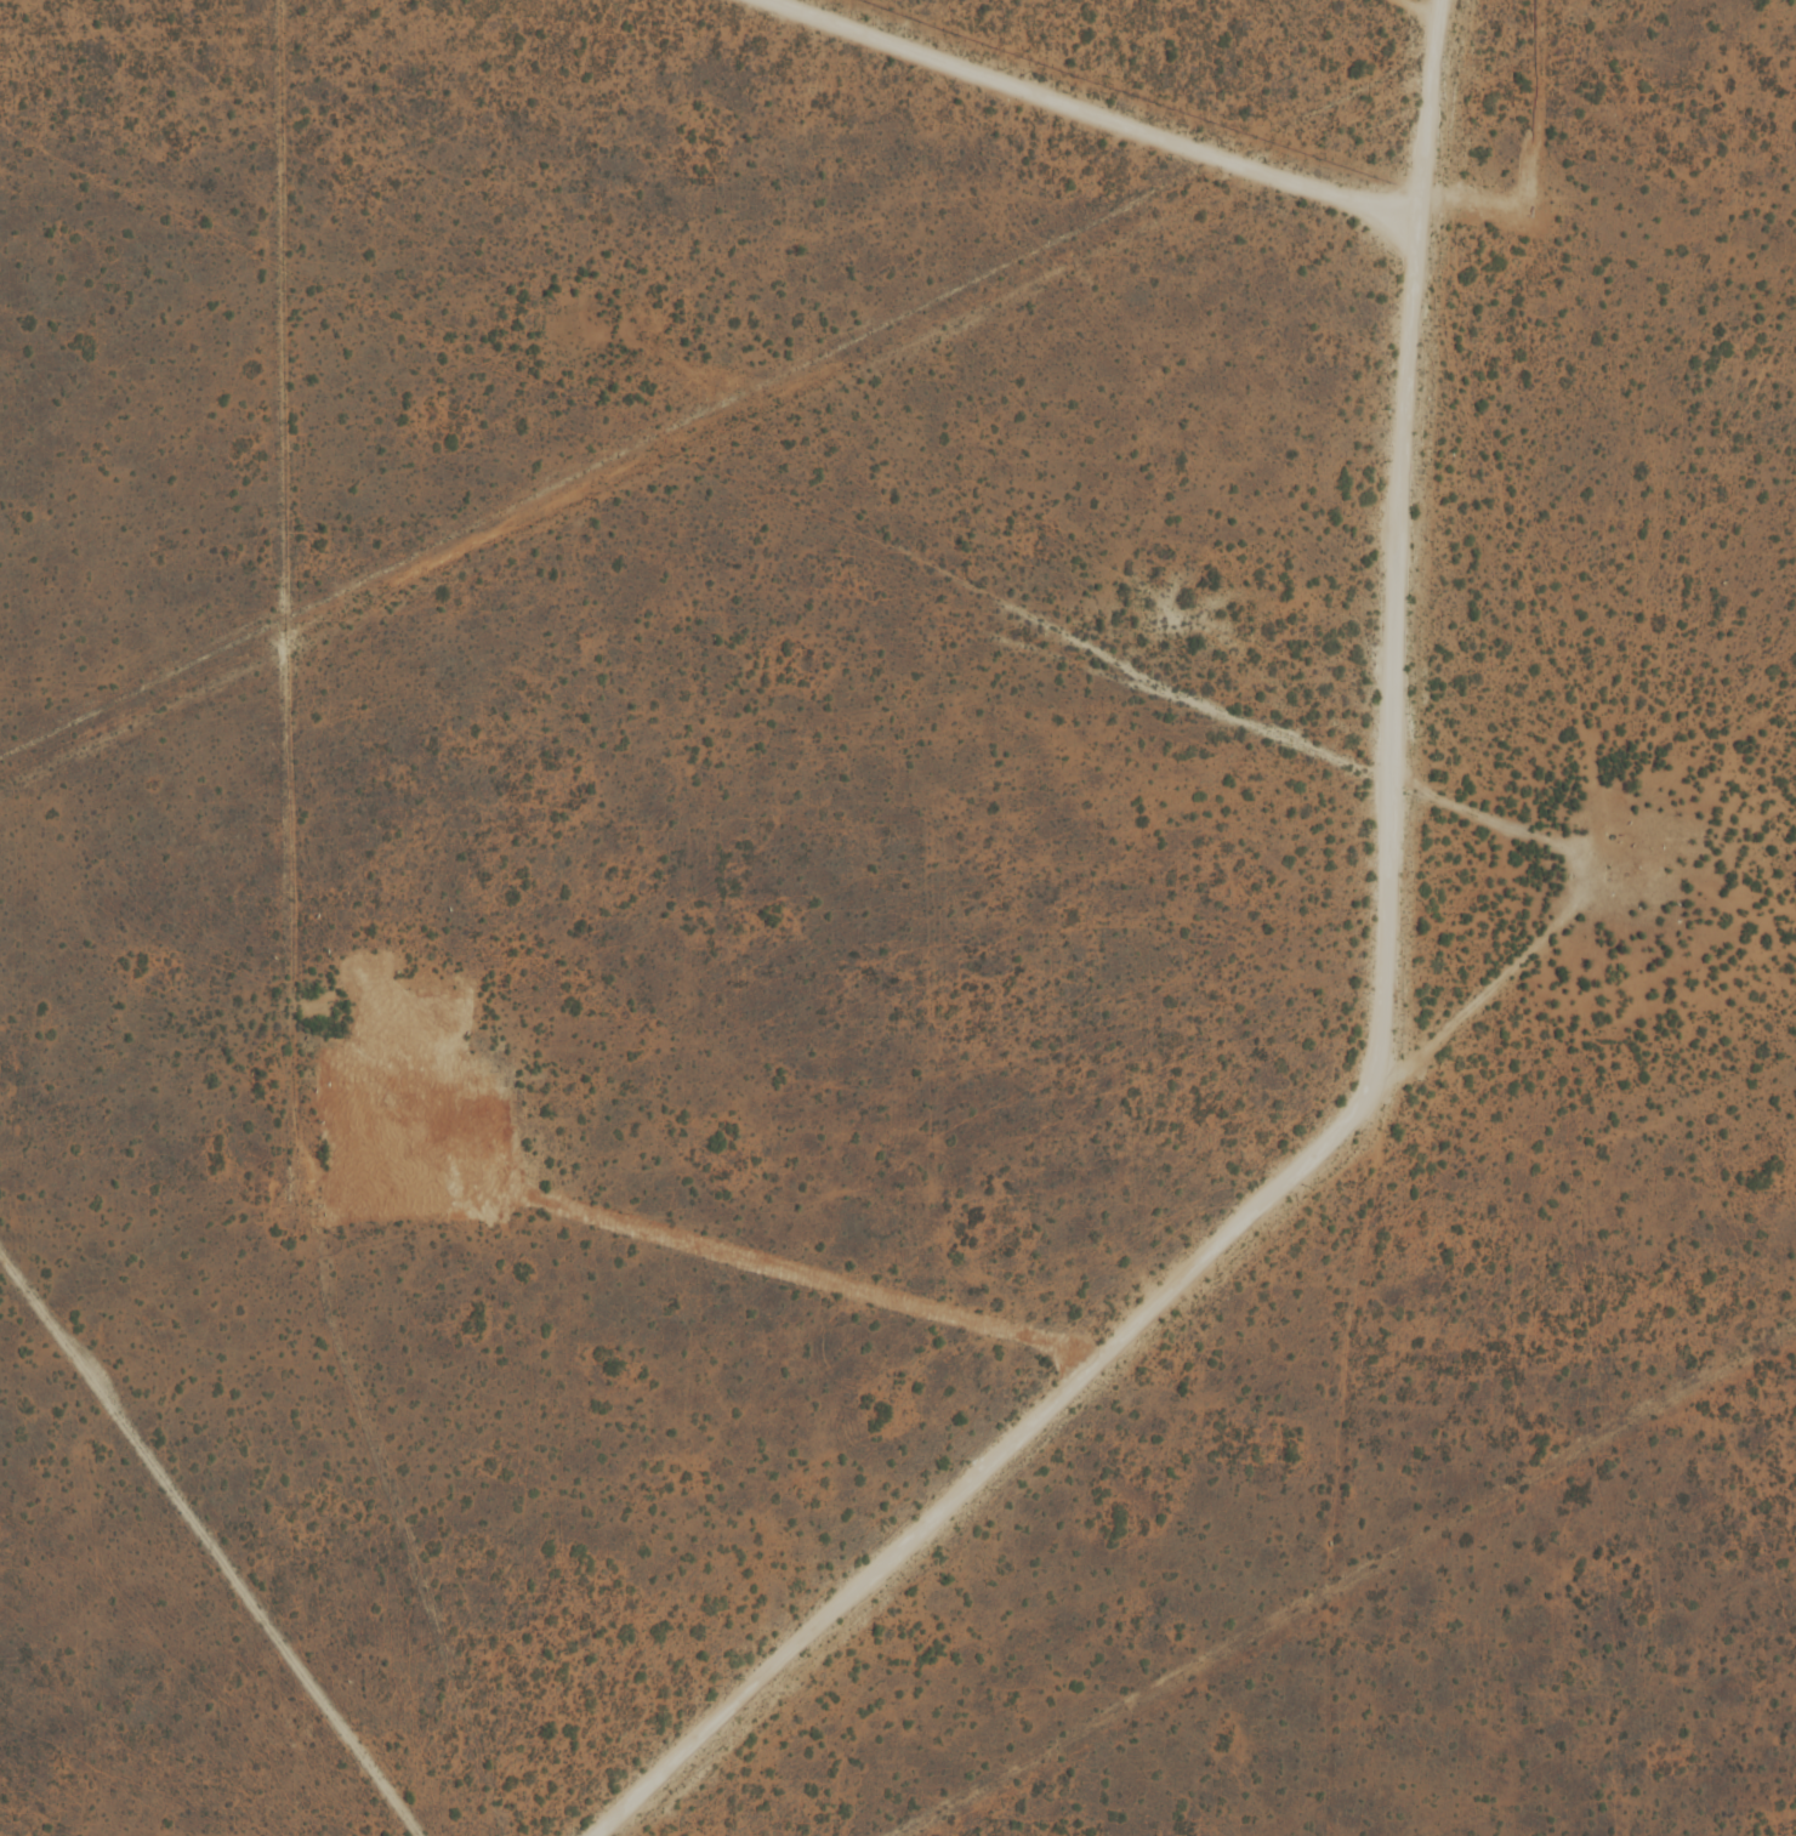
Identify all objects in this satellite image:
road: (1450, 1)
road: (1116, 114)
road: (1372, 1080)
road: (811, 1271)

